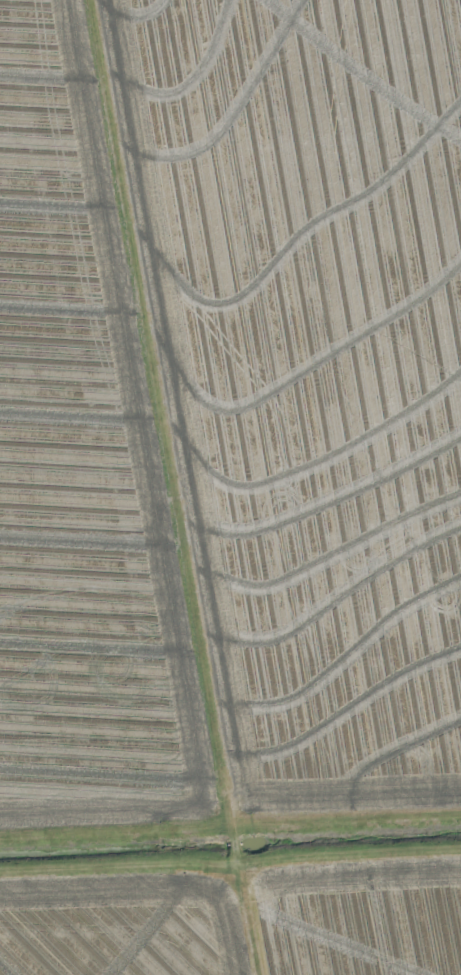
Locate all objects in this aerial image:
road: (184, 487)
road: (230, 863)

